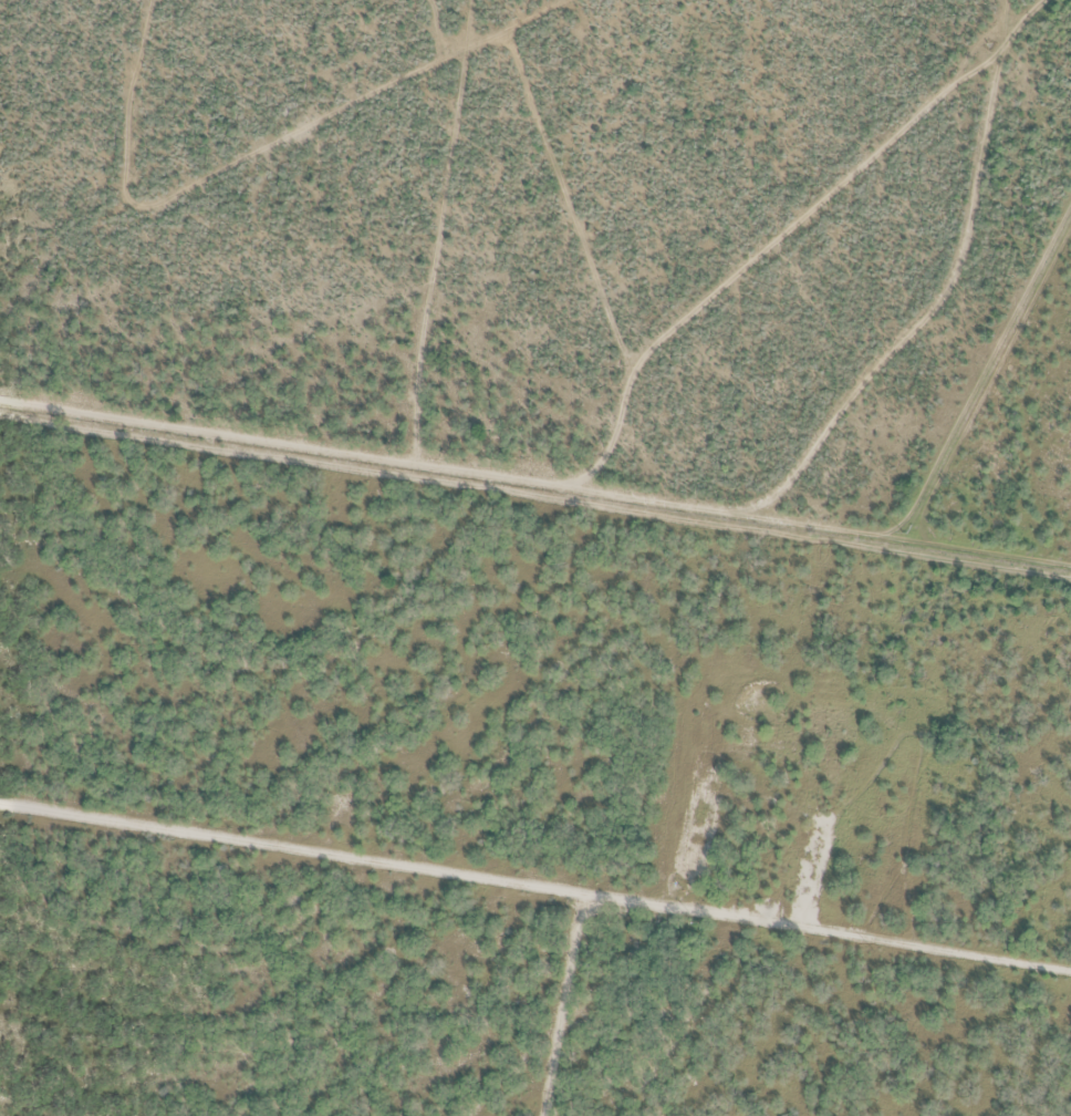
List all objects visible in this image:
road: (852, 278)
road: (534, 477)

